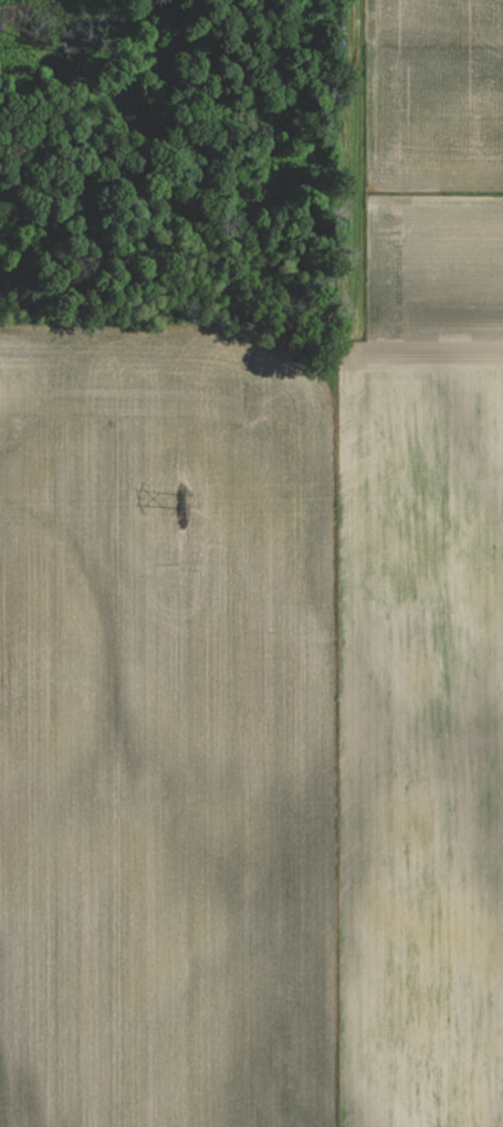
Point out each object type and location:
power tower: (180, 501)

